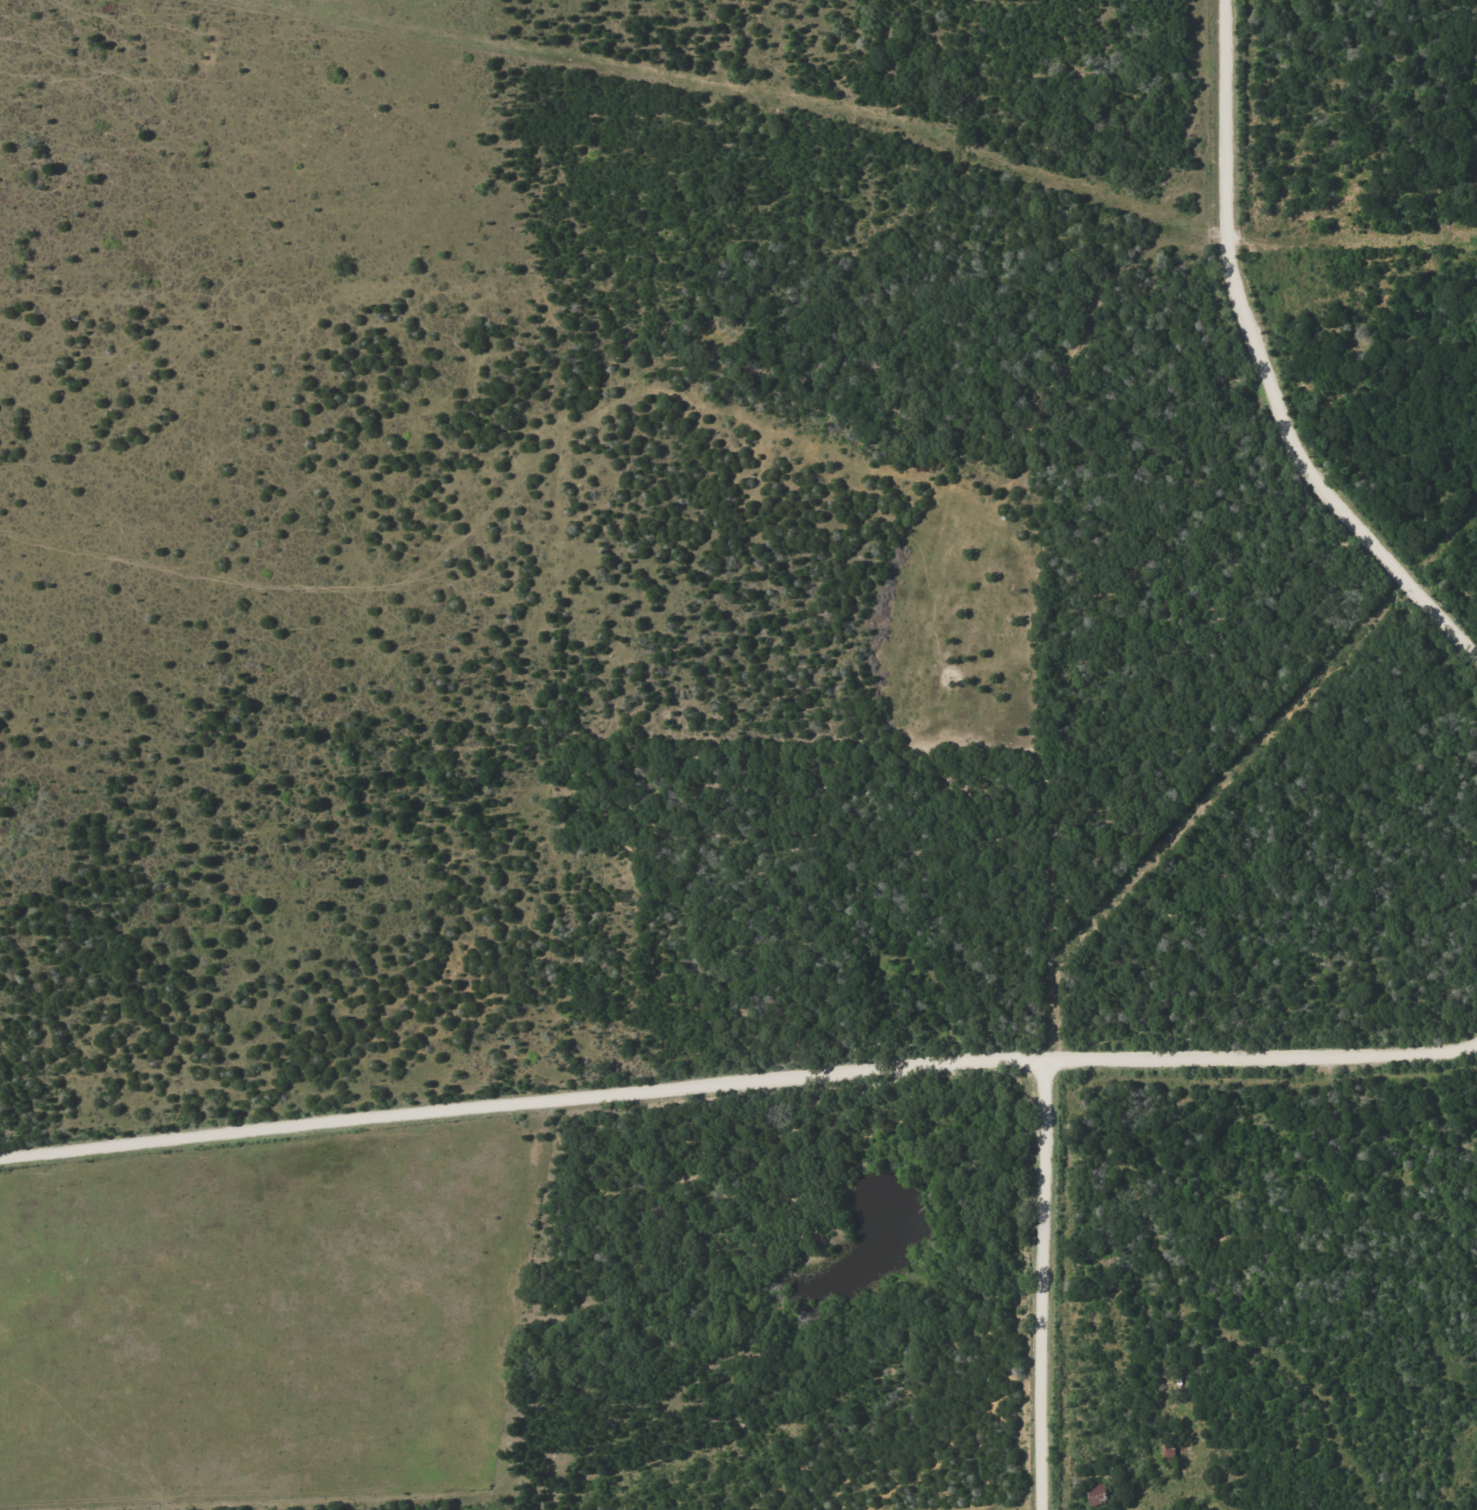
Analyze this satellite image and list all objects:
road: (1262, 365)
road: (1044, 1068)
road: (521, 1104)

